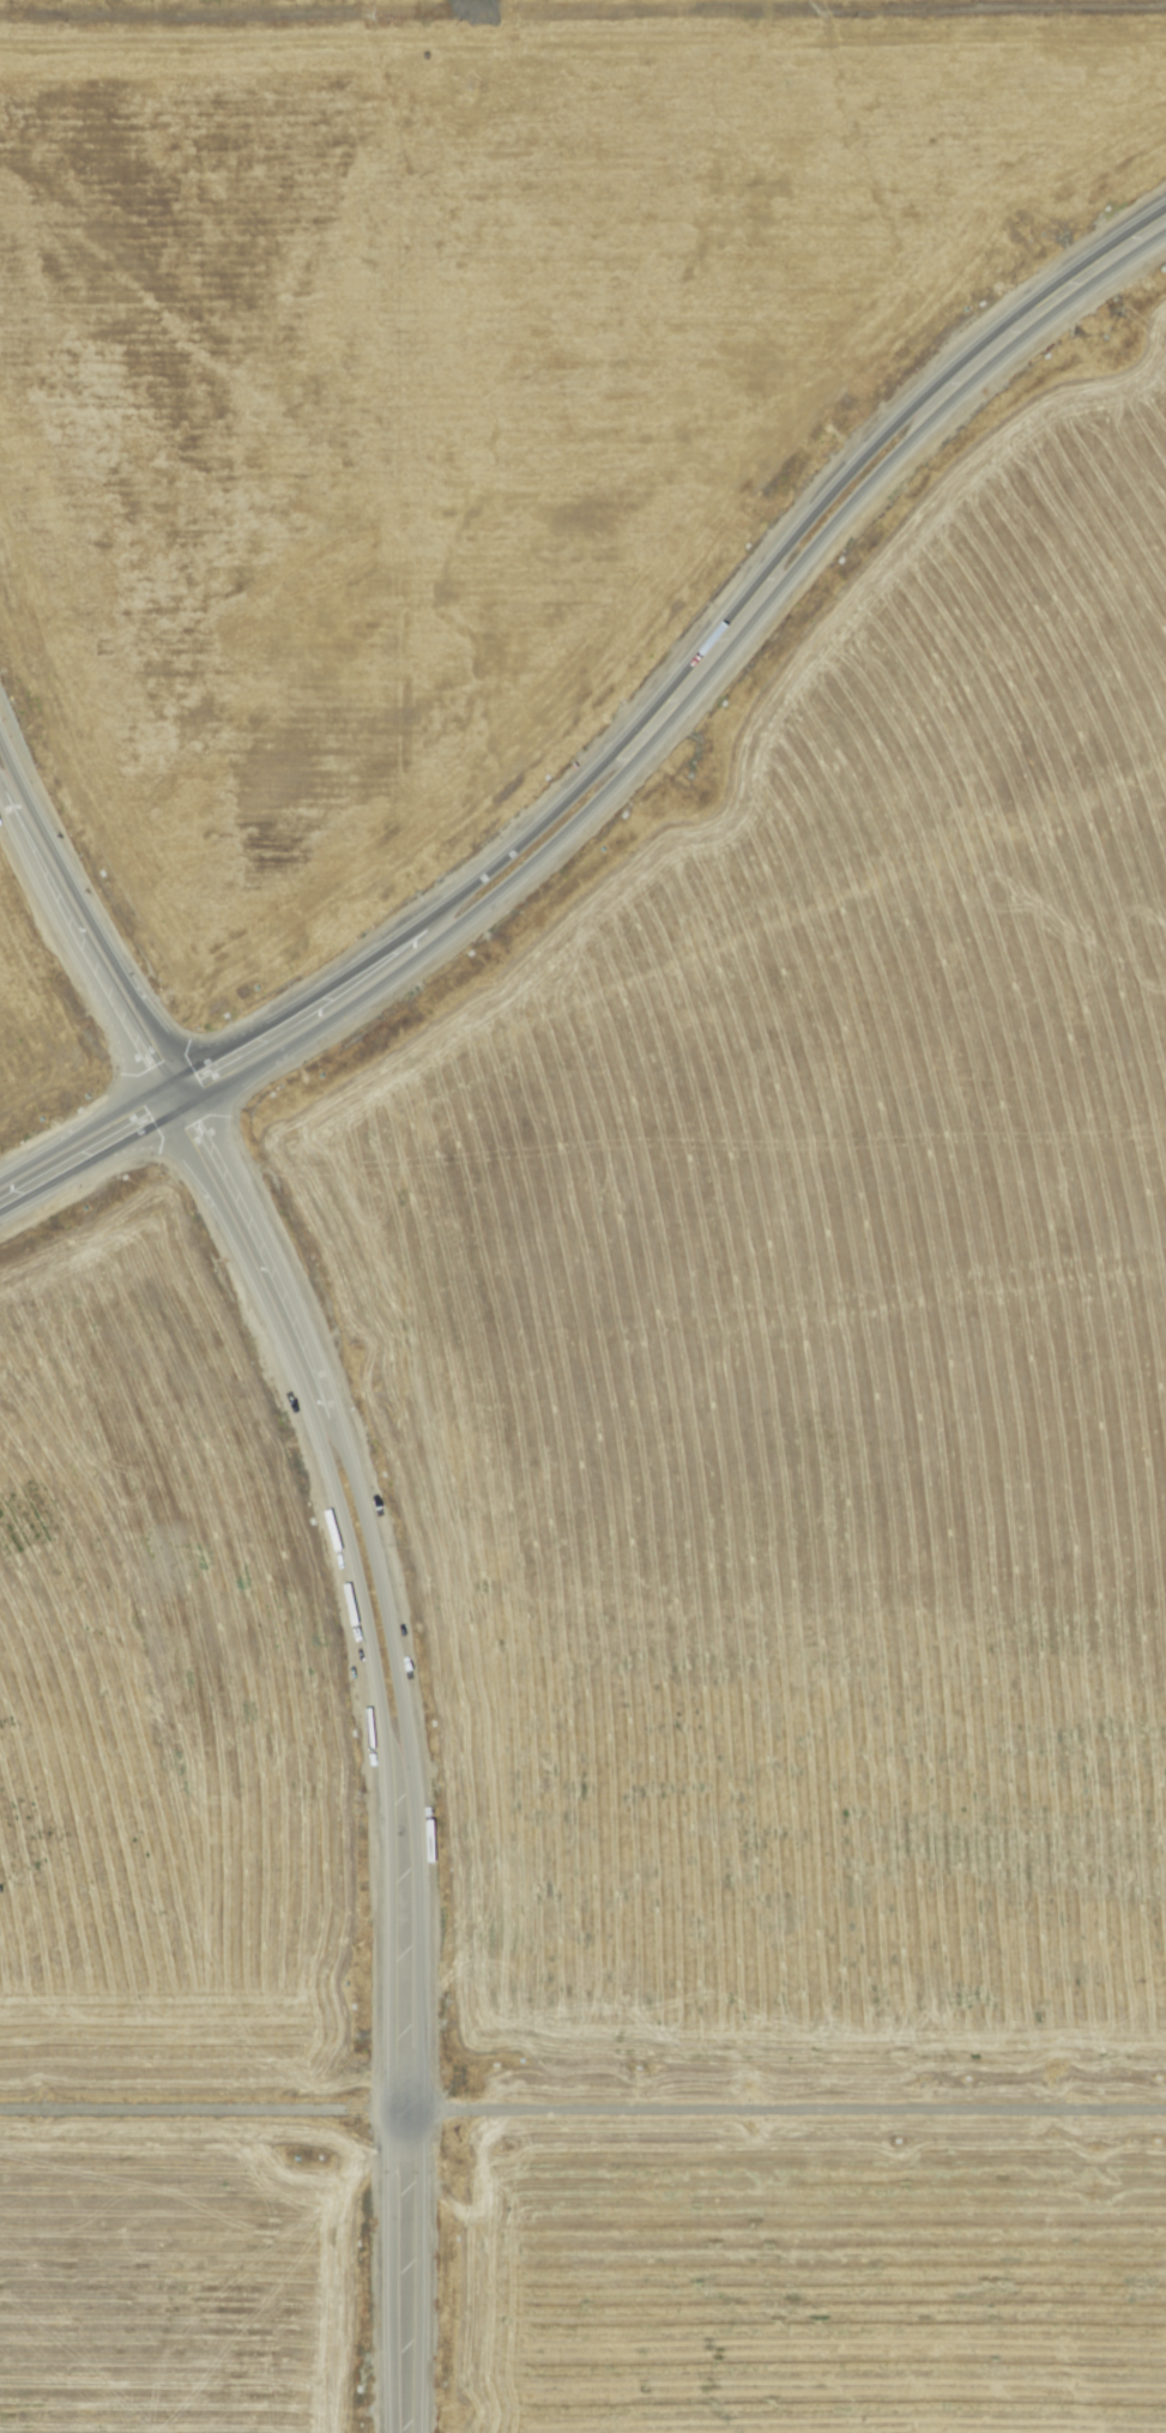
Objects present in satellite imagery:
road: (618, 725)
road: (627, 775)
road: (379, 1546)
road: (357, 1574)
railway: (582, 2096)
road: (793, 2111)
road: (197, 2113)

